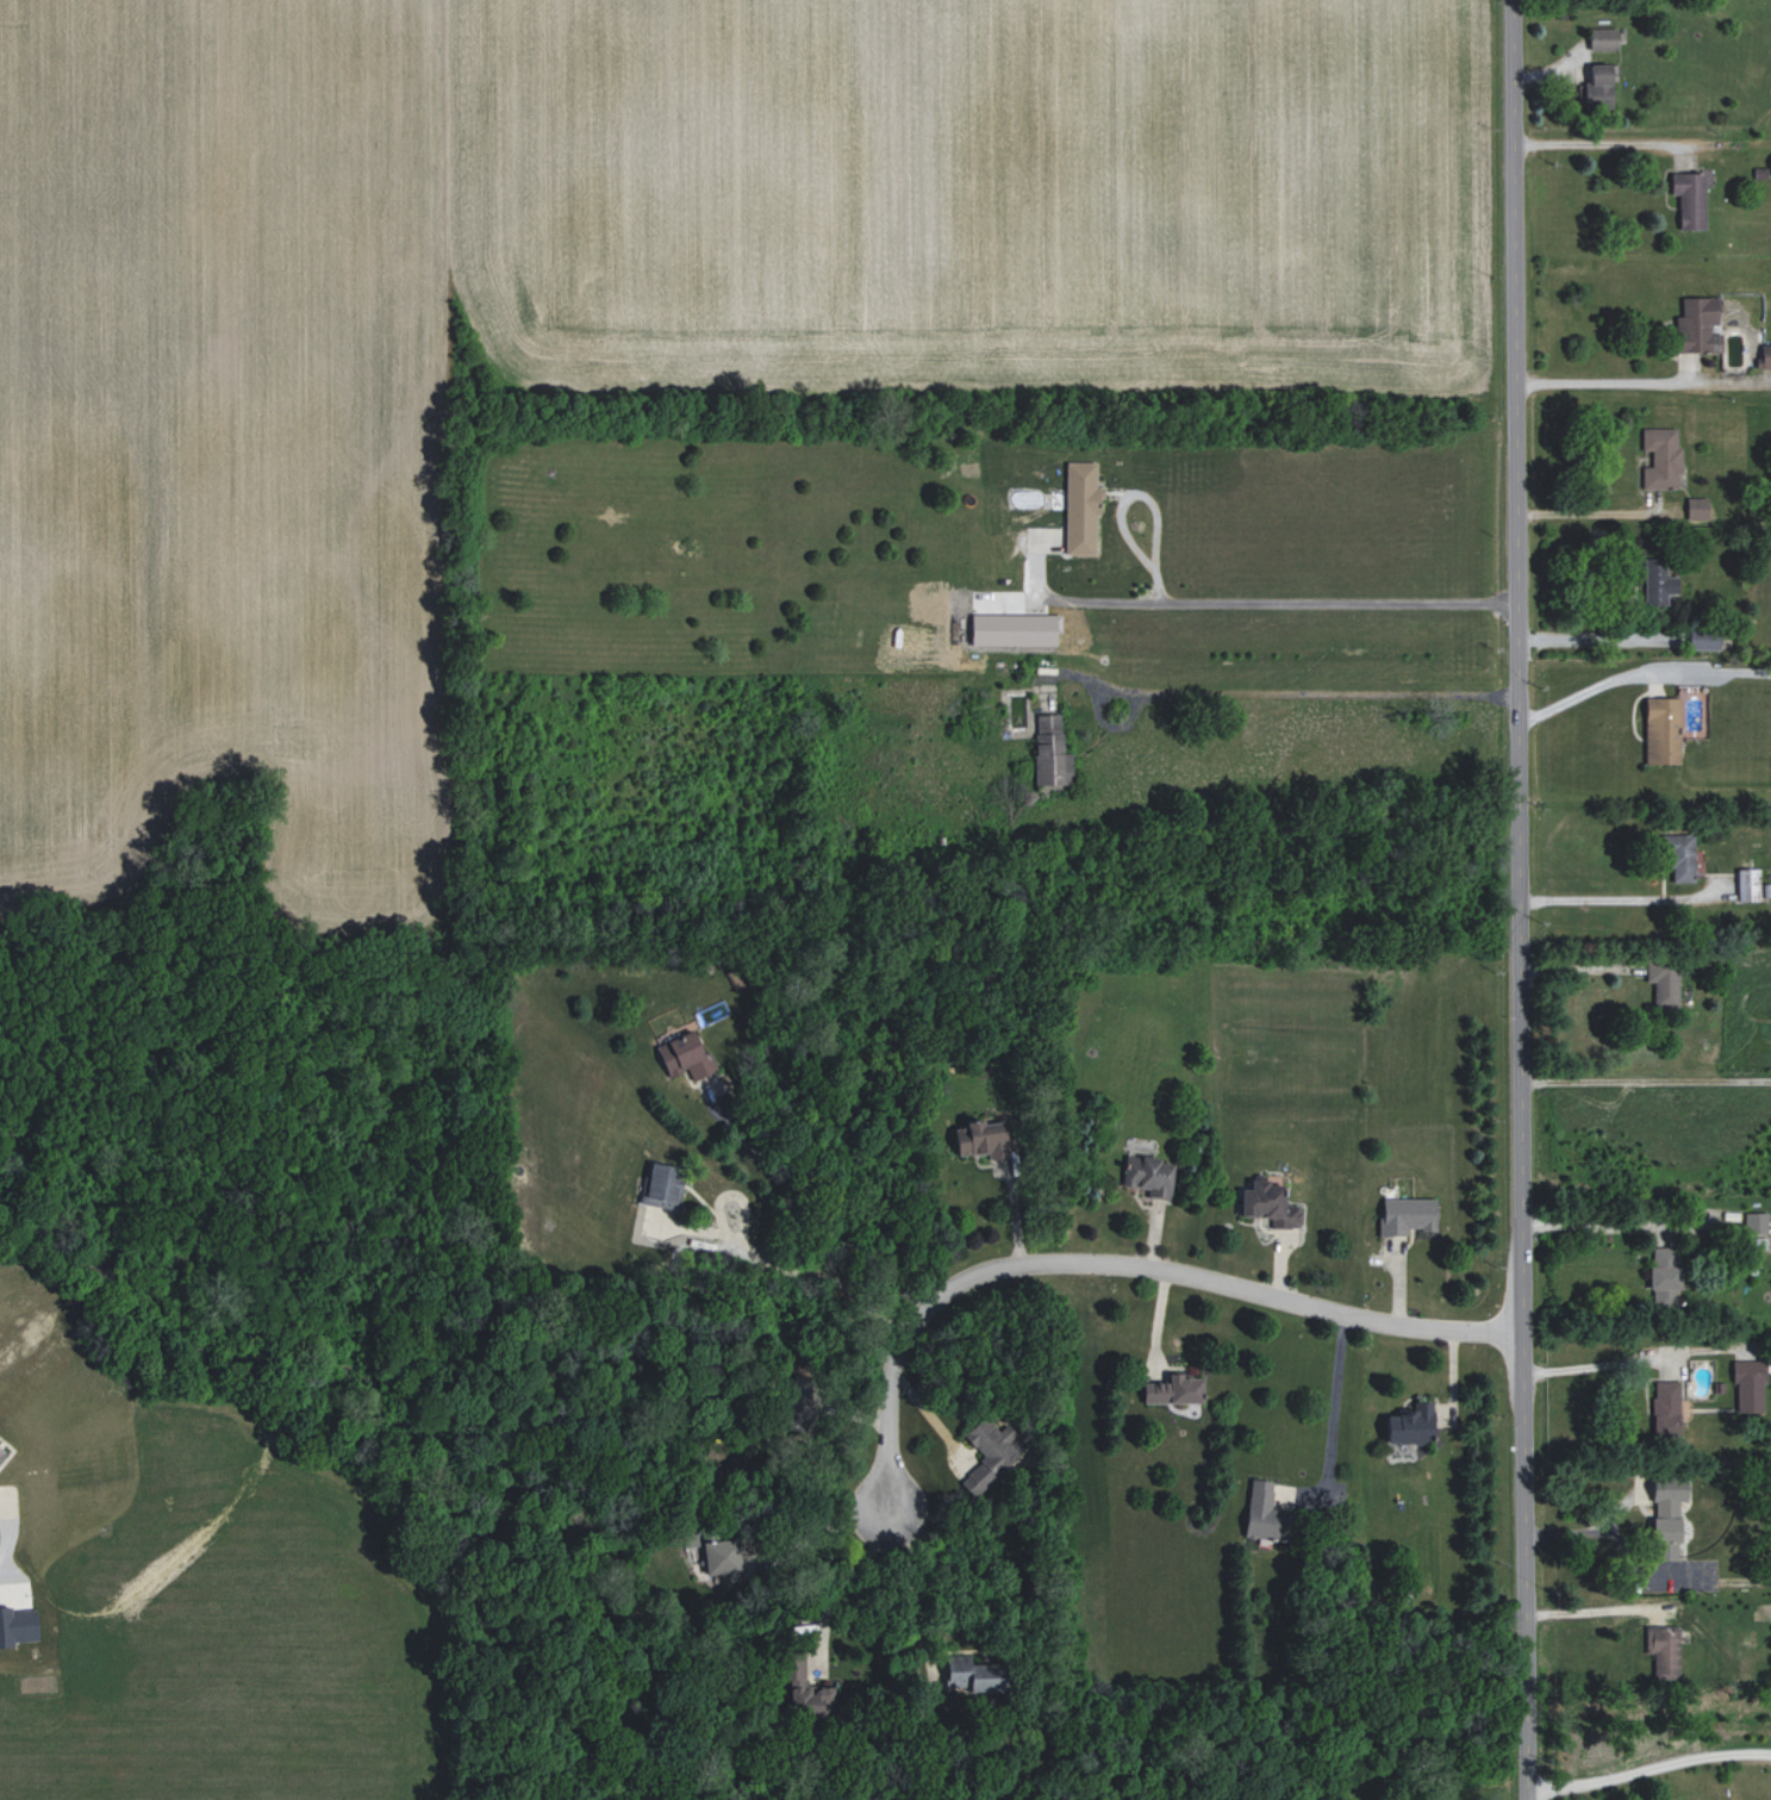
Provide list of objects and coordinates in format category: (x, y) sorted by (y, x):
building: (1603, 38)
building: (1598, 87)
road: (1595, 143)
building: (1691, 197)
building: (1698, 325)
building: (1765, 355)
road: (1596, 382)
building: (1661, 457)
road: (1147, 494)
building: (1697, 507)
building: (1081, 509)
road: (1583, 513)
building: (1658, 581)
road: (1255, 603)
building: (1014, 629)
building: (1704, 641)
road: (1616, 677)
road: (1312, 693)
building: (1663, 730)
building: (1052, 752)
building: (1679, 855)
building: (1748, 884)
road: (1516, 899)
road: (1622, 899)
building: (1663, 982)
building: (686, 1057)
road: (1644, 1080)
building: (983, 1136)
building: (1149, 1175)
building: (663, 1185)
building: (1268, 1203)
road: (815, 1213)
building: (1408, 1215)
building: (1756, 1222)
road: (1610, 1225)
road: (1110, 1264)
building: (1665, 1276)
road: (1586, 1366)
building: (1750, 1387)
building: (1174, 1390)
building: (798, 1403)
building: (1666, 1408)
road: (1333, 1412)
road: (928, 1413)
building: (1411, 1424)
building: (990, 1453)
building: (1265, 1513)
building: (1667, 1516)
road: (1594, 1532)
building: (722, 1556)
road: (911, 1600)
road: (1584, 1603)
building: (18, 1625)
building: (1664, 1650)
building: (973, 1674)
building: (807, 1693)
road: (1646, 1767)

